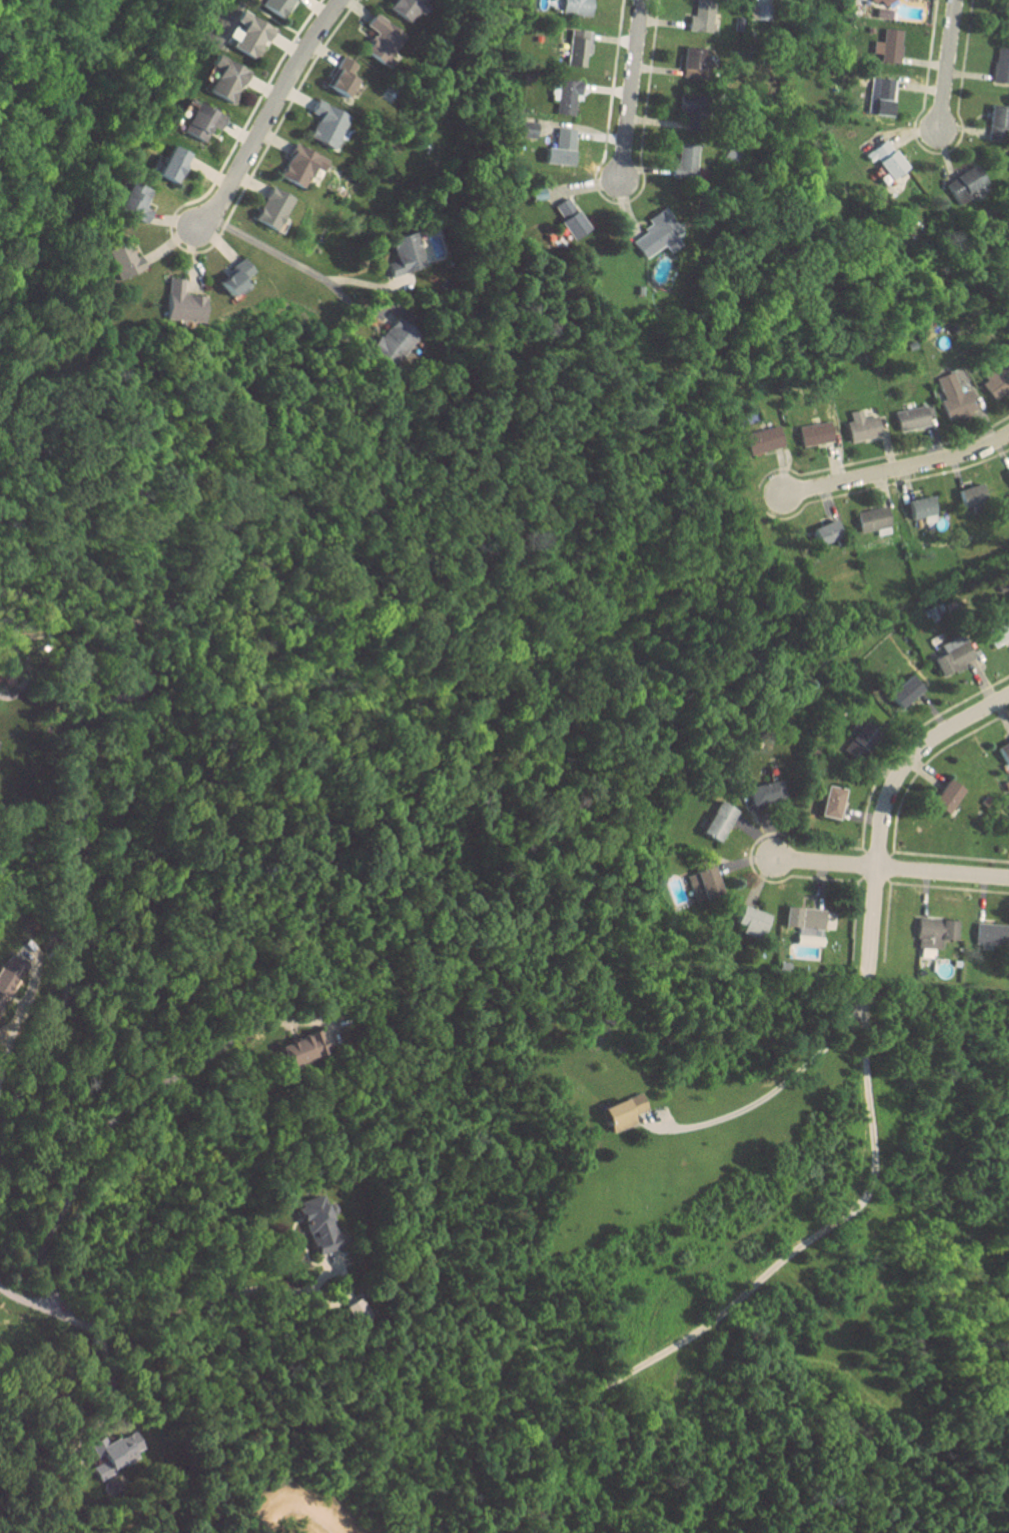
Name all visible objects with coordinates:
building: (1007, 1)
building: (277, 6)
building: (408, 7)
building: (884, 8)
building: (760, 10)
building: (702, 16)
building: (249, 33)
building: (383, 39)
building: (891, 45)
building: (578, 47)
building: (694, 62)
road: (946, 64)
building: (1001, 64)
building: (346, 75)
building: (227, 78)
road: (629, 90)
building: (565, 94)
building: (883, 94)
building: (690, 103)
road: (267, 116)
building: (200, 120)
building: (999, 122)
building: (327, 123)
building: (562, 147)
road: (937, 152)
building: (887, 158)
building: (685, 161)
building: (175, 162)
building: (302, 165)
building: (137, 200)
road: (619, 201)
building: (274, 208)
building: (570, 217)
building: (657, 233)
road: (188, 250)
road: (271, 253)
building: (406, 254)
building: (124, 259)
building: (237, 276)
building: (183, 302)
building: (395, 341)
building: (998, 379)
building: (955, 396)
building: (913, 418)
building: (863, 425)
building: (816, 433)
building: (764, 439)
road: (881, 456)
road: (895, 470)
road: (885, 485)
building: (973, 494)
building: (923, 506)
building: (874, 518)
building: (829, 531)
building: (998, 632)
building: (954, 653)
building: (907, 690)
road: (905, 737)
building: (860, 738)
building: (1005, 750)
road: (923, 763)
building: (768, 790)
building: (948, 796)
building: (833, 802)
road: (880, 816)
building: (720, 821)
road: (750, 850)
road: (951, 855)
road: (823, 863)
road: (942, 873)
building: (704, 883)
road: (947, 887)
road: (854, 916)
building: (805, 917)
building: (752, 920)
road: (886, 921)
building: (991, 933)
building: (926, 950)
road: (11, 1028)
building: (302, 1048)
road: (780, 1083)
building: (625, 1112)
road: (111, 1120)
building: (318, 1225)
road: (745, 1288)
road: (216, 1295)
building: (359, 1311)
road: (48, 1313)
road: (109, 1399)
building: (119, 1453)

